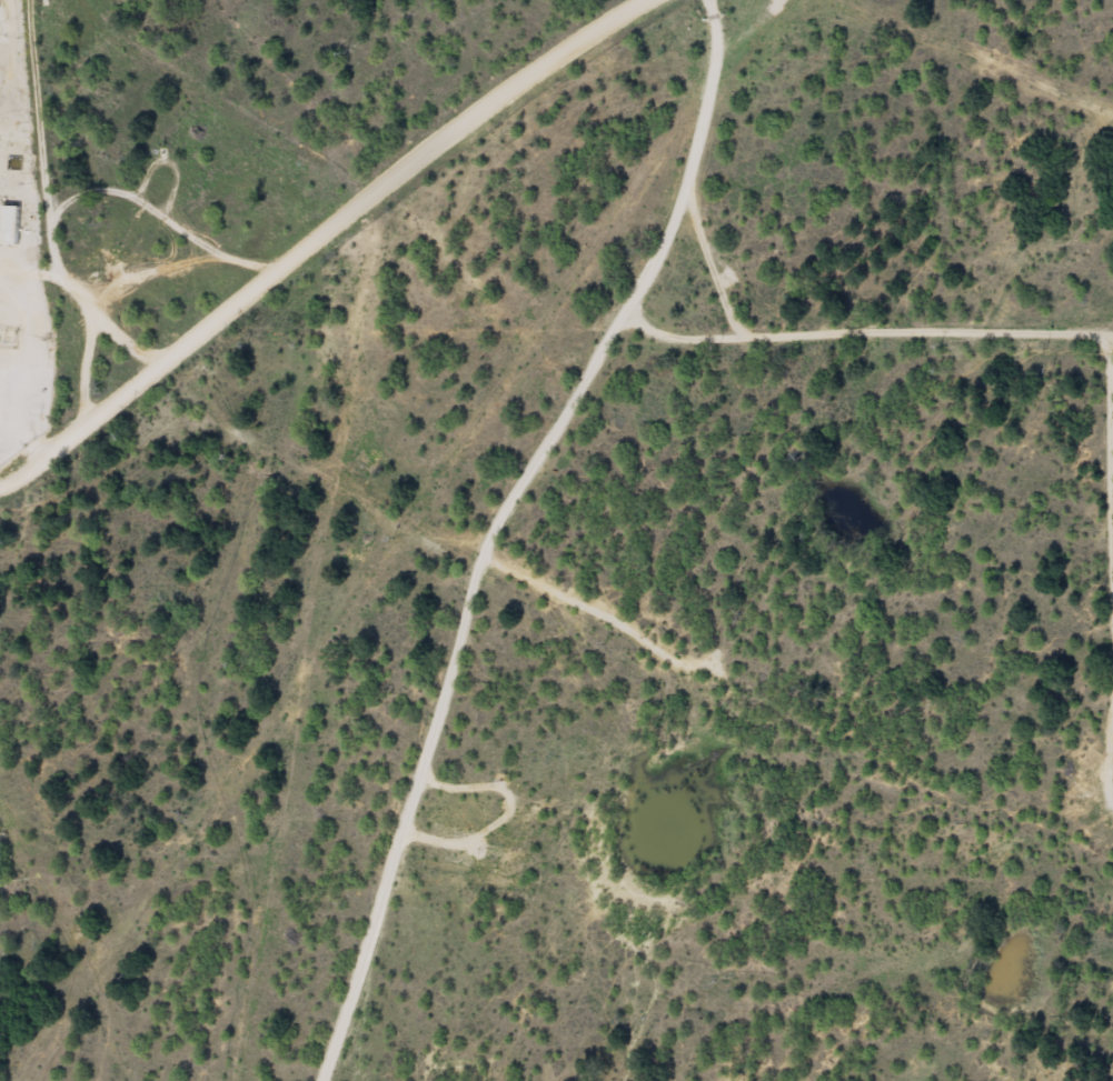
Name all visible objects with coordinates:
road: (713, 14)
building: (9, 226)
road: (349, 248)

